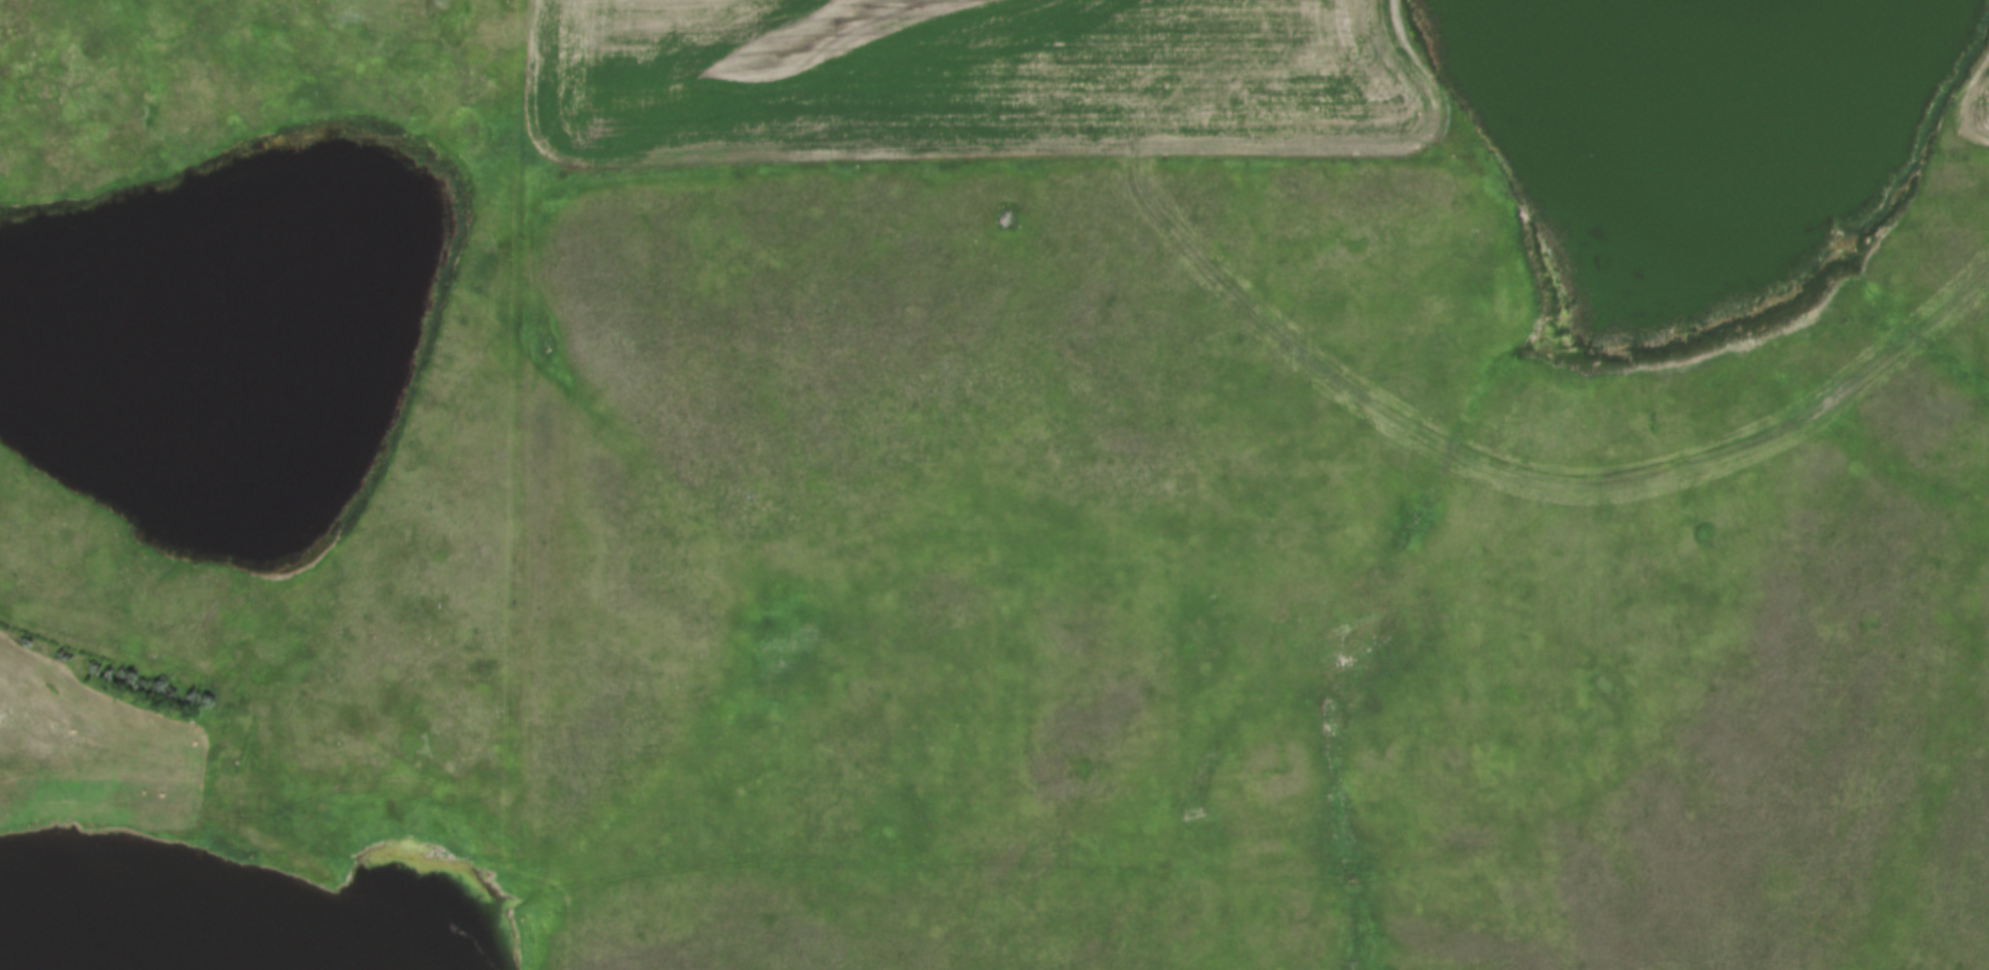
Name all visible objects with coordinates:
road: (136, 807)
road: (976, 858)

